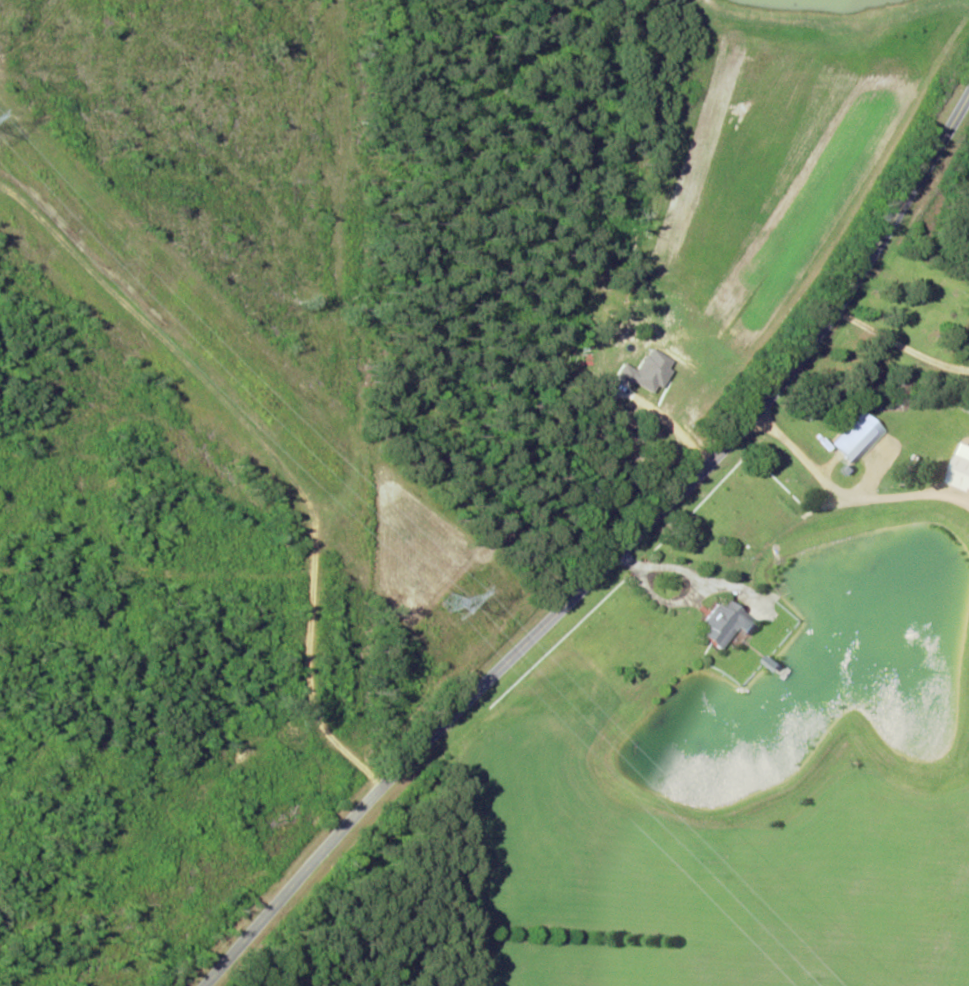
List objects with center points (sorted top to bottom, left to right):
building: (649, 370)
building: (860, 436)
building: (962, 468)
road: (640, 580)
power tower: (443, 606)
building: (729, 623)

